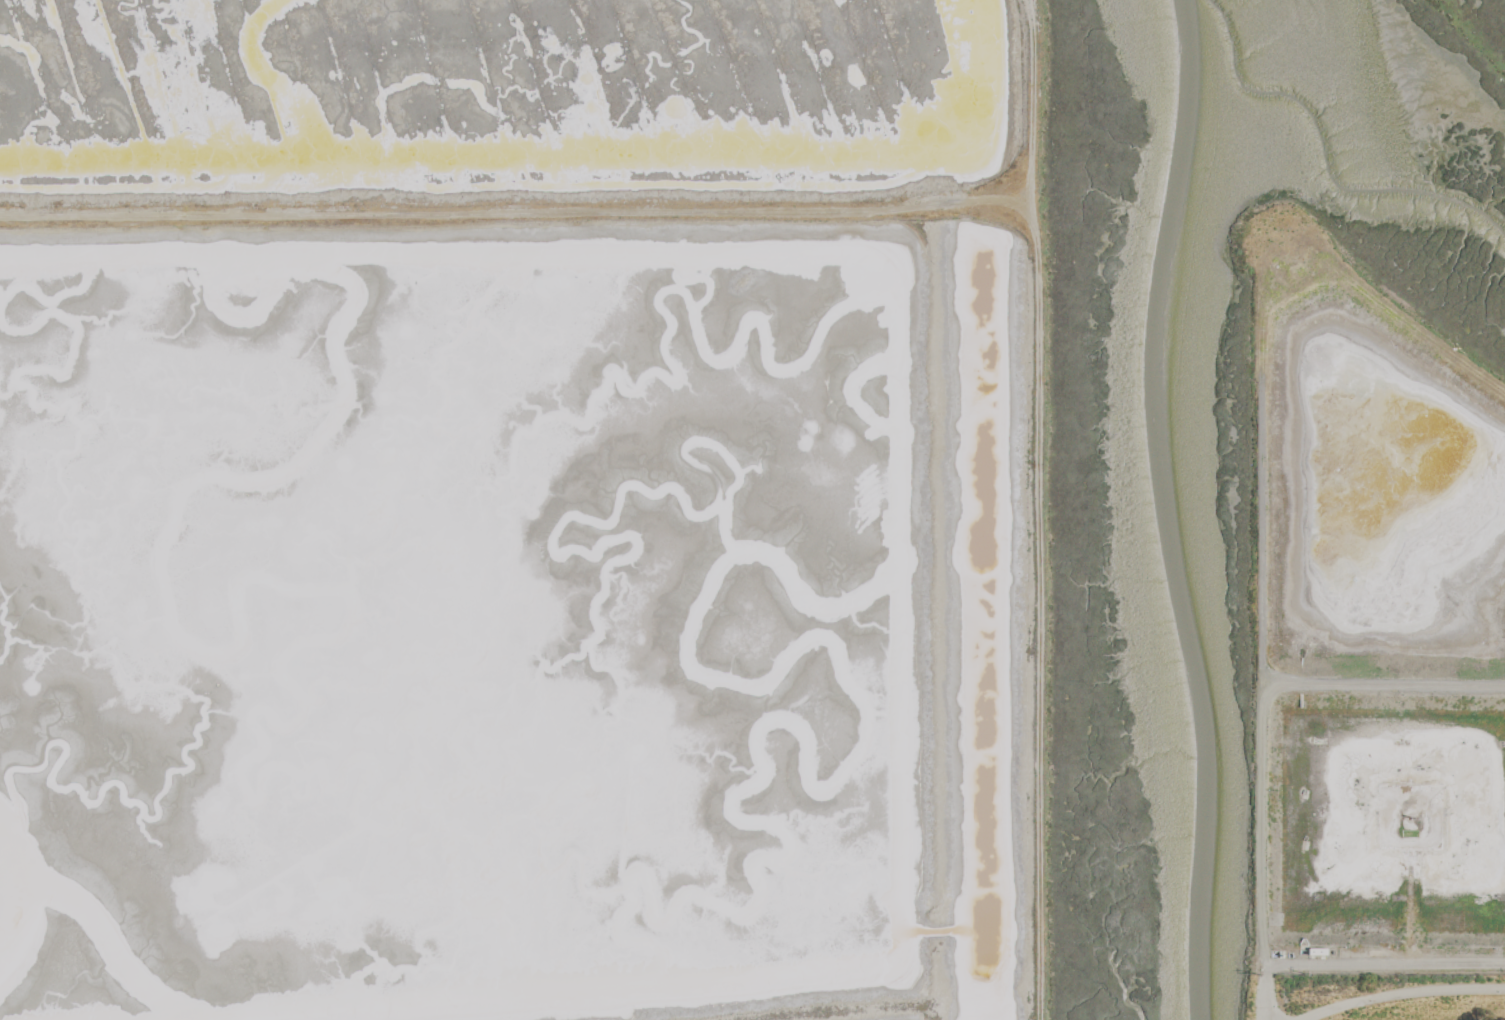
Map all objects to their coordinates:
road: (1259, 547)
road: (1259, 703)
road: (1385, 967)
road: (1264, 994)
road: (1404, 995)
park: (1376, 998)

